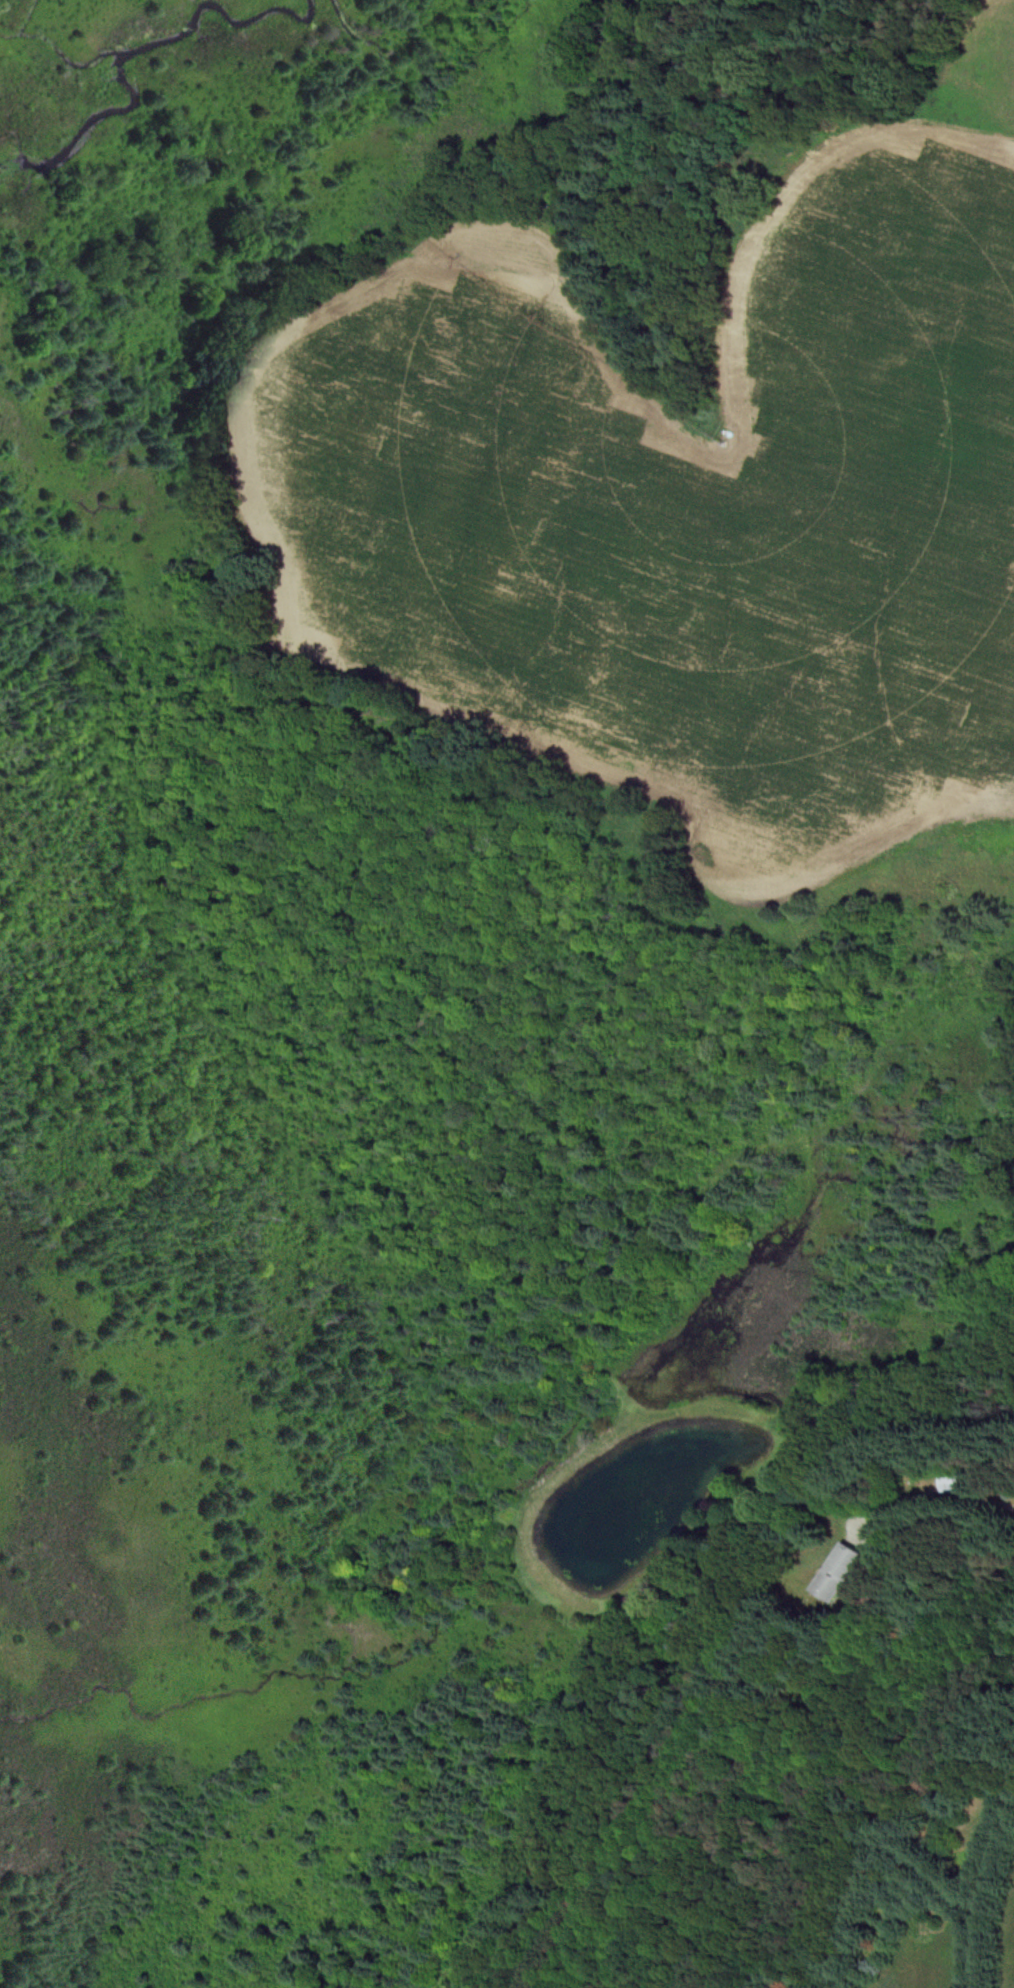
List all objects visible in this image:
building: (958, 1483)
road: (937, 1504)
building: (838, 1573)

